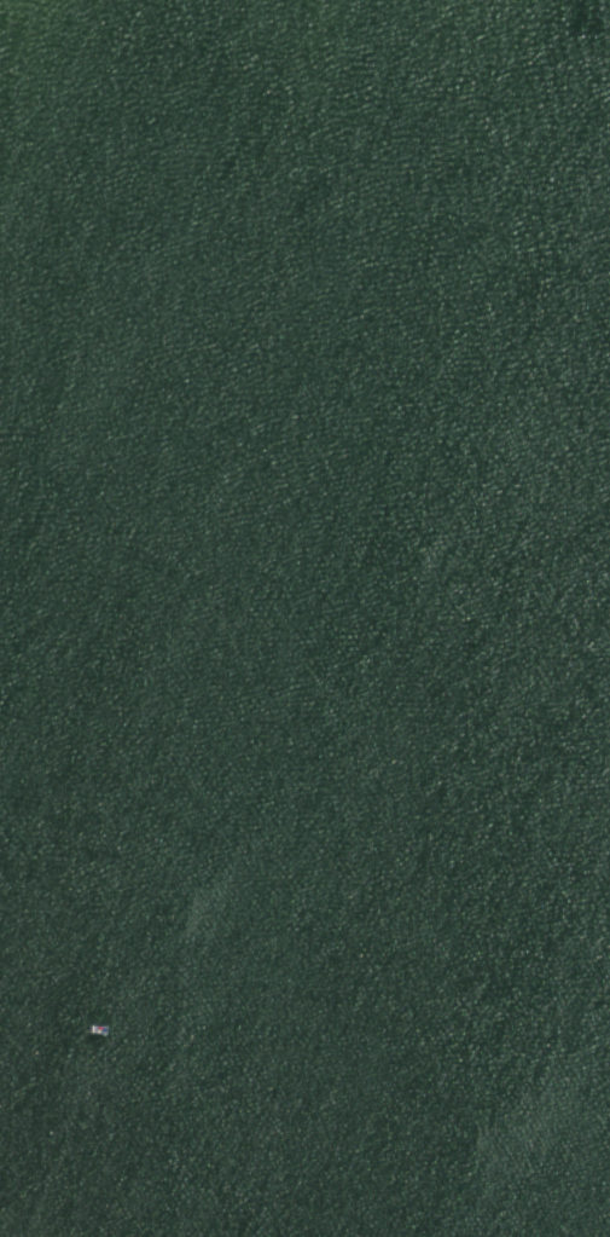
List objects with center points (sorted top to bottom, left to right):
park: (304, 618)

